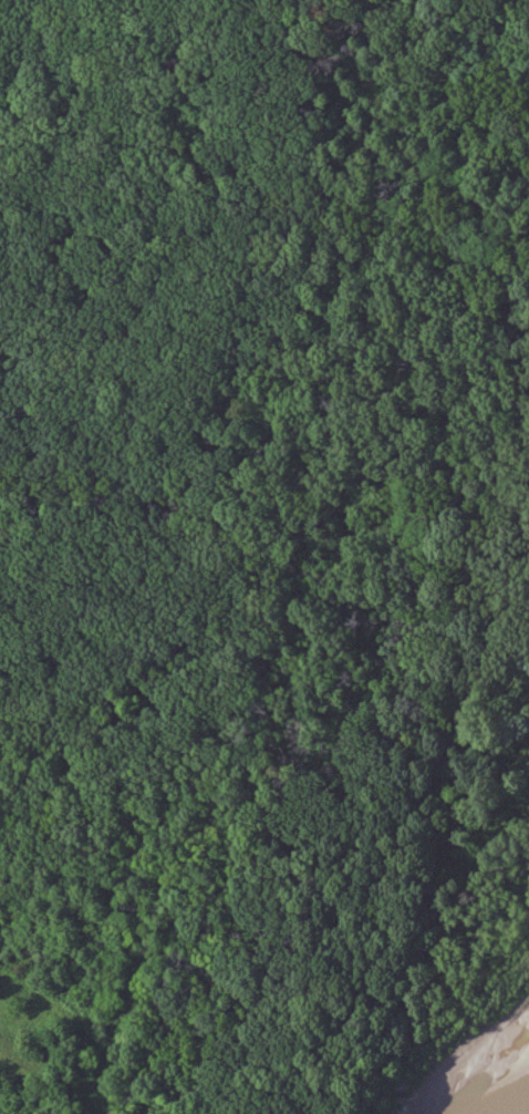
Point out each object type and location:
park: (261, 551)

